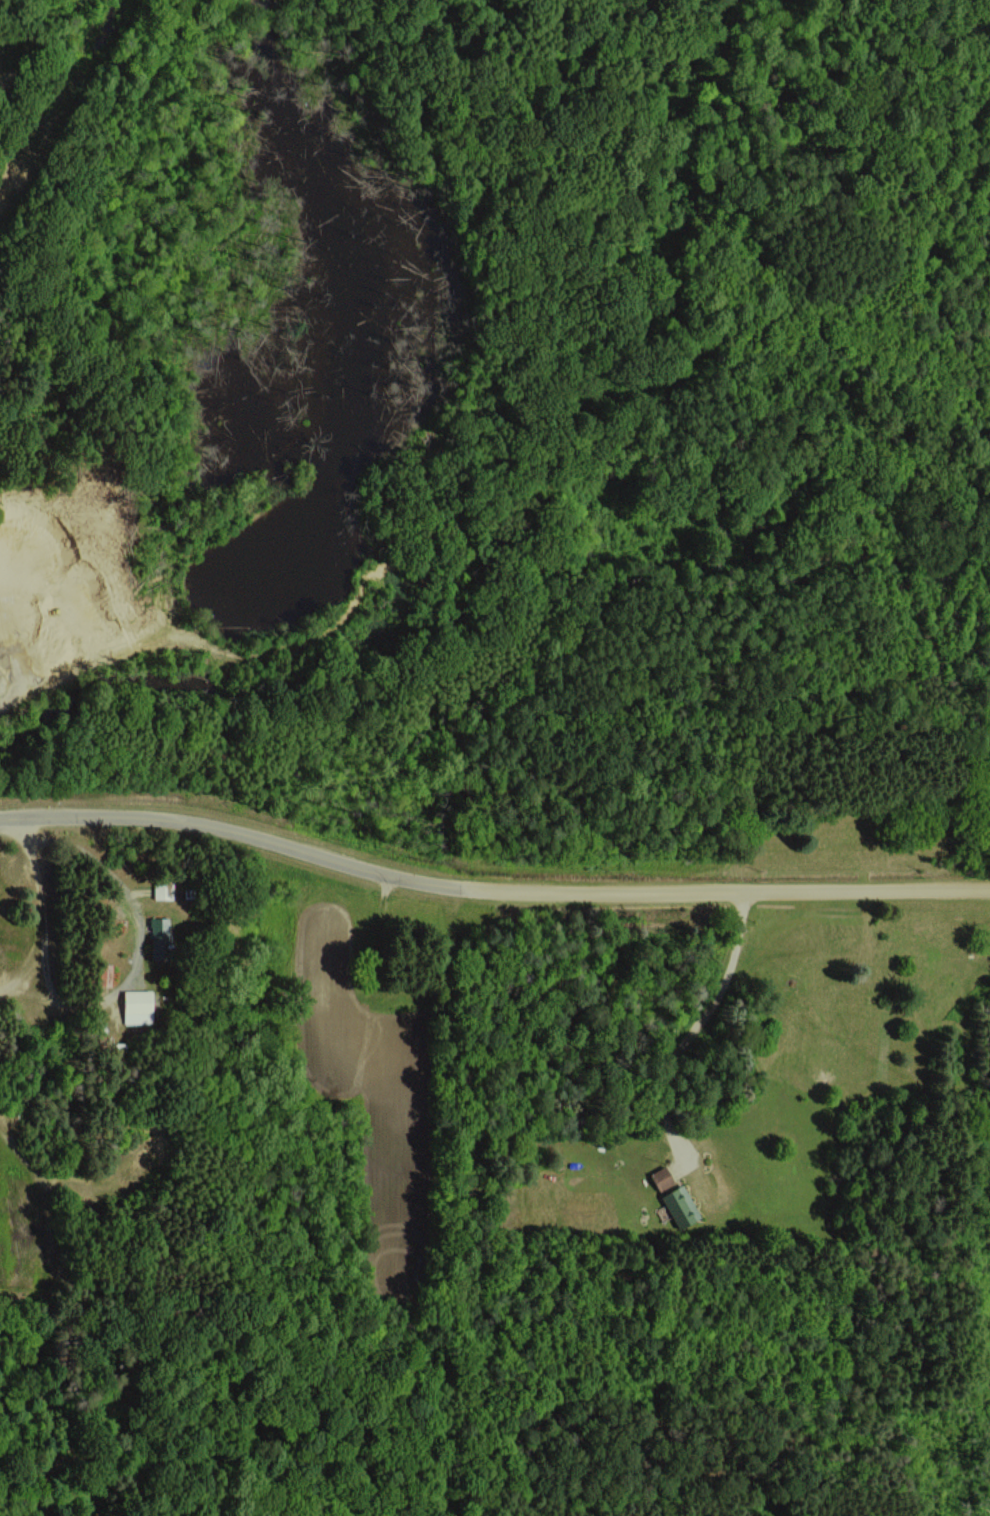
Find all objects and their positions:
building: (162, 889)
road: (489, 898)
building: (159, 936)
building: (137, 1006)
road: (700, 1022)
building: (661, 1178)
building: (680, 1206)

